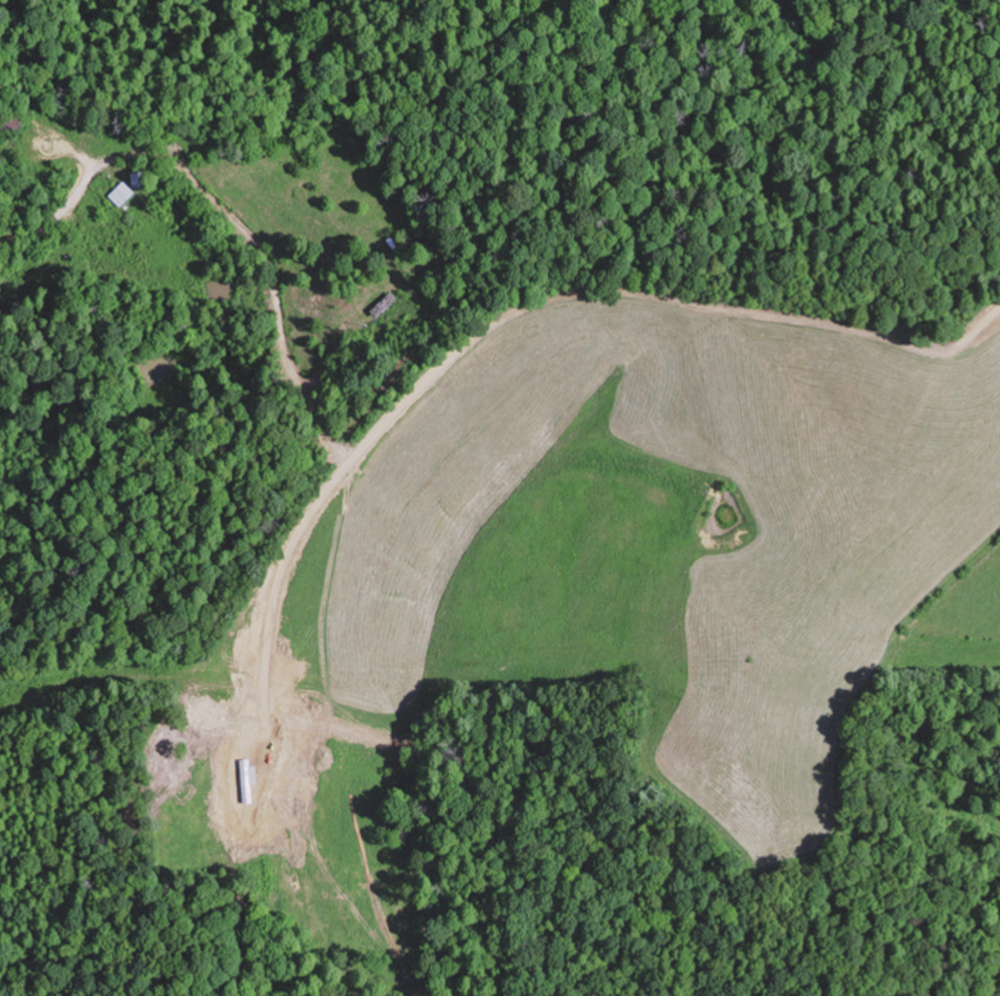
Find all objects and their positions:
building: (123, 194)
road: (55, 215)

